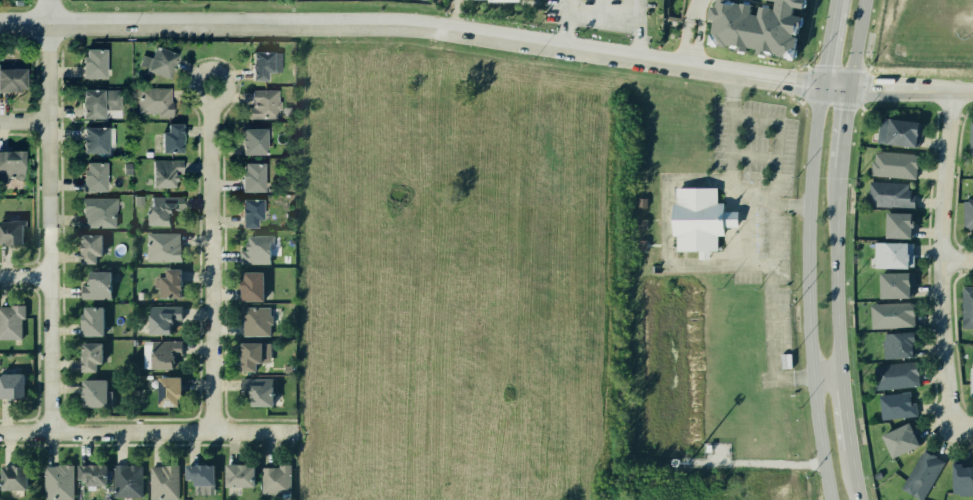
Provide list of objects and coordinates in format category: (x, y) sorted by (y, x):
building: (467, 0)
road: (32, 1)
road: (698, 3)
road: (696, 7)
road: (455, 12)
road: (563, 13)
parking lot: (597, 14)
road: (637, 18)
road: (427, 22)
building: (748, 25)
road: (562, 34)
road: (828, 43)
road: (636, 45)
road: (685, 60)
building: (94, 63)
building: (160, 63)
building: (266, 63)
building: (13, 79)
road: (911, 91)
building: (105, 102)
building: (154, 102)
building: (266, 104)
road: (24, 122)
building: (898, 131)
building: (970, 138)
building: (173, 139)
building: (100, 140)
building: (258, 141)
building: (894, 161)
road: (732, 167)
building: (12, 171)
building: (168, 173)
building: (93, 178)
building: (254, 178)
road: (838, 186)
building: (890, 191)
building: (164, 209)
building: (253, 211)
building: (100, 212)
building: (967, 212)
road: (214, 214)
road: (48, 215)
building: (700, 217)
building: (895, 222)
building: (12, 233)
building: (165, 246)
building: (94, 248)
building: (257, 250)
building: (890, 253)
road: (957, 256)
road: (941, 257)
road: (24, 275)
building: (172, 282)
building: (890, 282)
building: (255, 285)
building: (100, 286)
road: (807, 293)
road: (770, 297)
building: (967, 305)
building: (891, 312)
building: (166, 318)
building: (11, 321)
building: (95, 321)
building: (256, 321)
building: (896, 342)
building: (162, 354)
building: (94, 355)
building: (257, 356)
building: (893, 374)
building: (970, 376)
road: (826, 377)
building: (12, 386)
building: (171, 390)
building: (262, 391)
building: (97, 392)
building: (894, 404)
road: (844, 412)
road: (961, 425)
road: (146, 432)
building: (895, 437)
building: (921, 473)
road: (854, 474)
building: (203, 475)
building: (959, 475)
building: (94, 476)
building: (243, 476)
building: (16, 477)
building: (128, 480)
building: (278, 480)
building: (165, 481)
building: (59, 482)
road: (858, 499)

